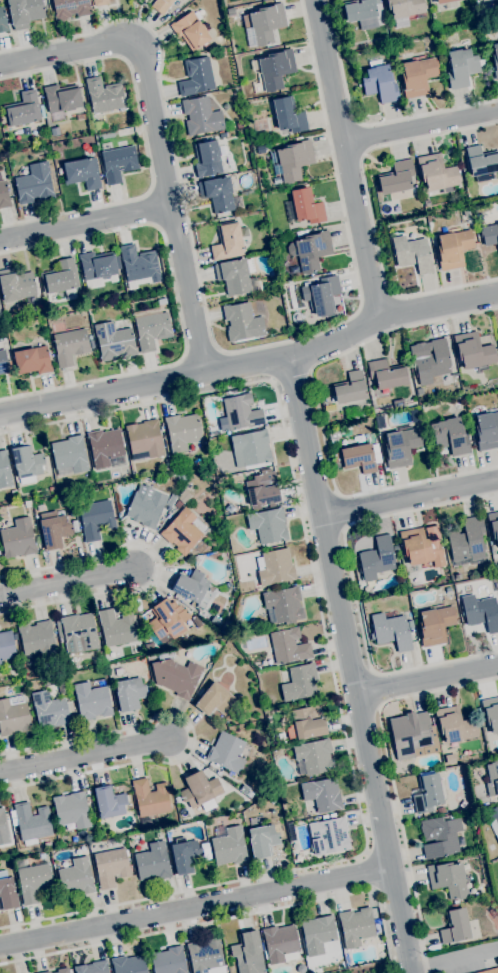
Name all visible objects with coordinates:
building: (477, 0)
building: (484, 0)
building: (99, 2)
building: (444, 3)
building: (161, 5)
building: (70, 8)
building: (404, 10)
building: (230, 11)
building: (361, 11)
building: (25, 12)
building: (3, 20)
building: (263, 24)
building: (191, 31)
building: (222, 50)
building: (495, 59)
building: (460, 67)
building: (275, 68)
building: (196, 77)
building: (417, 77)
building: (379, 82)
building: (105, 95)
building: (62, 98)
building: (23, 110)
building: (42, 111)
building: (288, 115)
building: (201, 116)
road: (365, 124)
building: (239, 125)
road: (421, 127)
building: (55, 131)
road: (143, 137)
road: (157, 139)
building: (260, 149)
building: (207, 158)
road: (347, 158)
building: (294, 159)
building: (118, 163)
building: (481, 164)
building: (81, 173)
building: (437, 173)
building: (397, 180)
building: (35, 184)
building: (234, 185)
building: (217, 193)
building: (4, 195)
building: (426, 202)
building: (304, 207)
road: (151, 209)
road: (369, 210)
building: (465, 214)
road: (84, 225)
building: (489, 234)
building: (227, 241)
building: (453, 248)
building: (310, 250)
building: (412, 253)
building: (139, 265)
building: (98, 268)
building: (236, 276)
building: (60, 277)
building: (16, 284)
building: (321, 294)
road: (376, 300)
building: (162, 301)
road: (177, 305)
building: (242, 322)
building: (151, 328)
building: (2, 336)
road: (213, 337)
building: (114, 341)
building: (71, 346)
road: (200, 349)
building: (473, 351)
building: (430, 359)
building: (32, 360)
building: (3, 362)
road: (252, 362)
building: (386, 374)
road: (291, 376)
building: (350, 388)
building: (399, 404)
building: (239, 413)
road: (319, 414)
building: (182, 431)
building: (487, 431)
building: (334, 436)
building: (450, 436)
building: (144, 439)
building: (384, 443)
building: (105, 446)
building: (401, 447)
building: (251, 448)
building: (69, 455)
building: (360, 456)
building: (336, 460)
building: (167, 462)
building: (27, 464)
building: (4, 470)
building: (237, 478)
building: (52, 488)
building: (263, 488)
building: (14, 492)
road: (410, 495)
building: (171, 500)
building: (28, 503)
building: (178, 504)
building: (146, 508)
building: (71, 511)
building: (170, 511)
building: (96, 518)
building: (493, 524)
building: (267, 525)
building: (55, 529)
building: (182, 531)
building: (18, 538)
building: (468, 540)
building: (421, 548)
building: (376, 558)
building: (195, 561)
road: (159, 566)
building: (275, 567)
road: (352, 585)
road: (69, 587)
building: (193, 588)
building: (215, 590)
building: (189, 605)
building: (283, 605)
building: (480, 612)
building: (167, 619)
building: (436, 624)
building: (117, 627)
building: (390, 630)
building: (80, 632)
building: (61, 636)
building: (37, 637)
building: (7, 645)
building: (289, 645)
building: (149, 646)
road: (331, 663)
building: (0, 664)
road: (353, 664)
building: (177, 676)
road: (428, 681)
building: (300, 682)
road: (374, 688)
building: (8, 690)
building: (130, 692)
building: (92, 699)
building: (214, 700)
building: (52, 709)
building: (491, 712)
building: (14, 717)
building: (306, 723)
building: (455, 725)
road: (193, 735)
building: (489, 736)
building: (417, 737)
building: (227, 752)
road: (87, 756)
building: (313, 756)
building: (221, 774)
road: (391, 778)
building: (492, 778)
building: (244, 789)
building: (200, 790)
building: (429, 792)
building: (250, 794)
building: (322, 794)
building: (151, 797)
building: (178, 799)
building: (272, 800)
building: (109, 802)
building: (440, 810)
building: (72, 811)
building: (494, 813)
building: (32, 822)
building: (3, 828)
building: (328, 835)
building: (440, 836)
building: (497, 839)
building: (263, 840)
building: (13, 841)
building: (47, 844)
building: (230, 846)
building: (42, 855)
building: (185, 855)
building: (153, 862)
building: (111, 866)
road: (369, 871)
building: (75, 876)
building: (448, 879)
building: (34, 881)
building: (7, 891)
road: (195, 907)
road: (228, 918)
building: (358, 925)
building: (455, 926)
building: (317, 934)
building: (281, 943)
building: (247, 948)
building: (206, 956)
road: (454, 959)
building: (169, 961)
building: (129, 964)
building: (93, 967)
building: (301, 968)
building: (62, 970)
building: (489, 971)
building: (46, 972)

